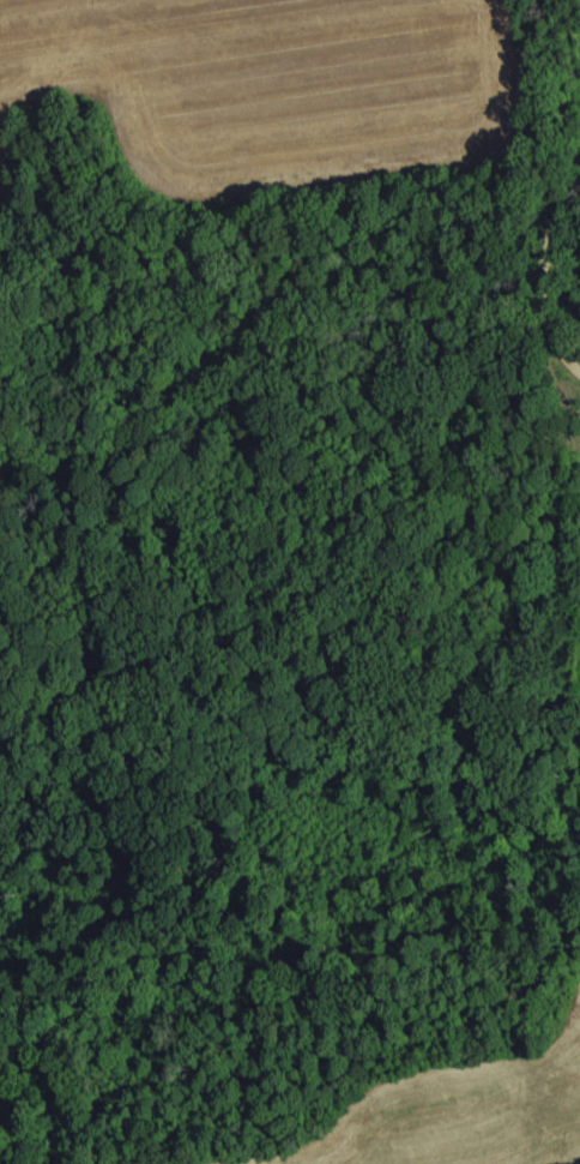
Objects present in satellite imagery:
road: (545, 275)

